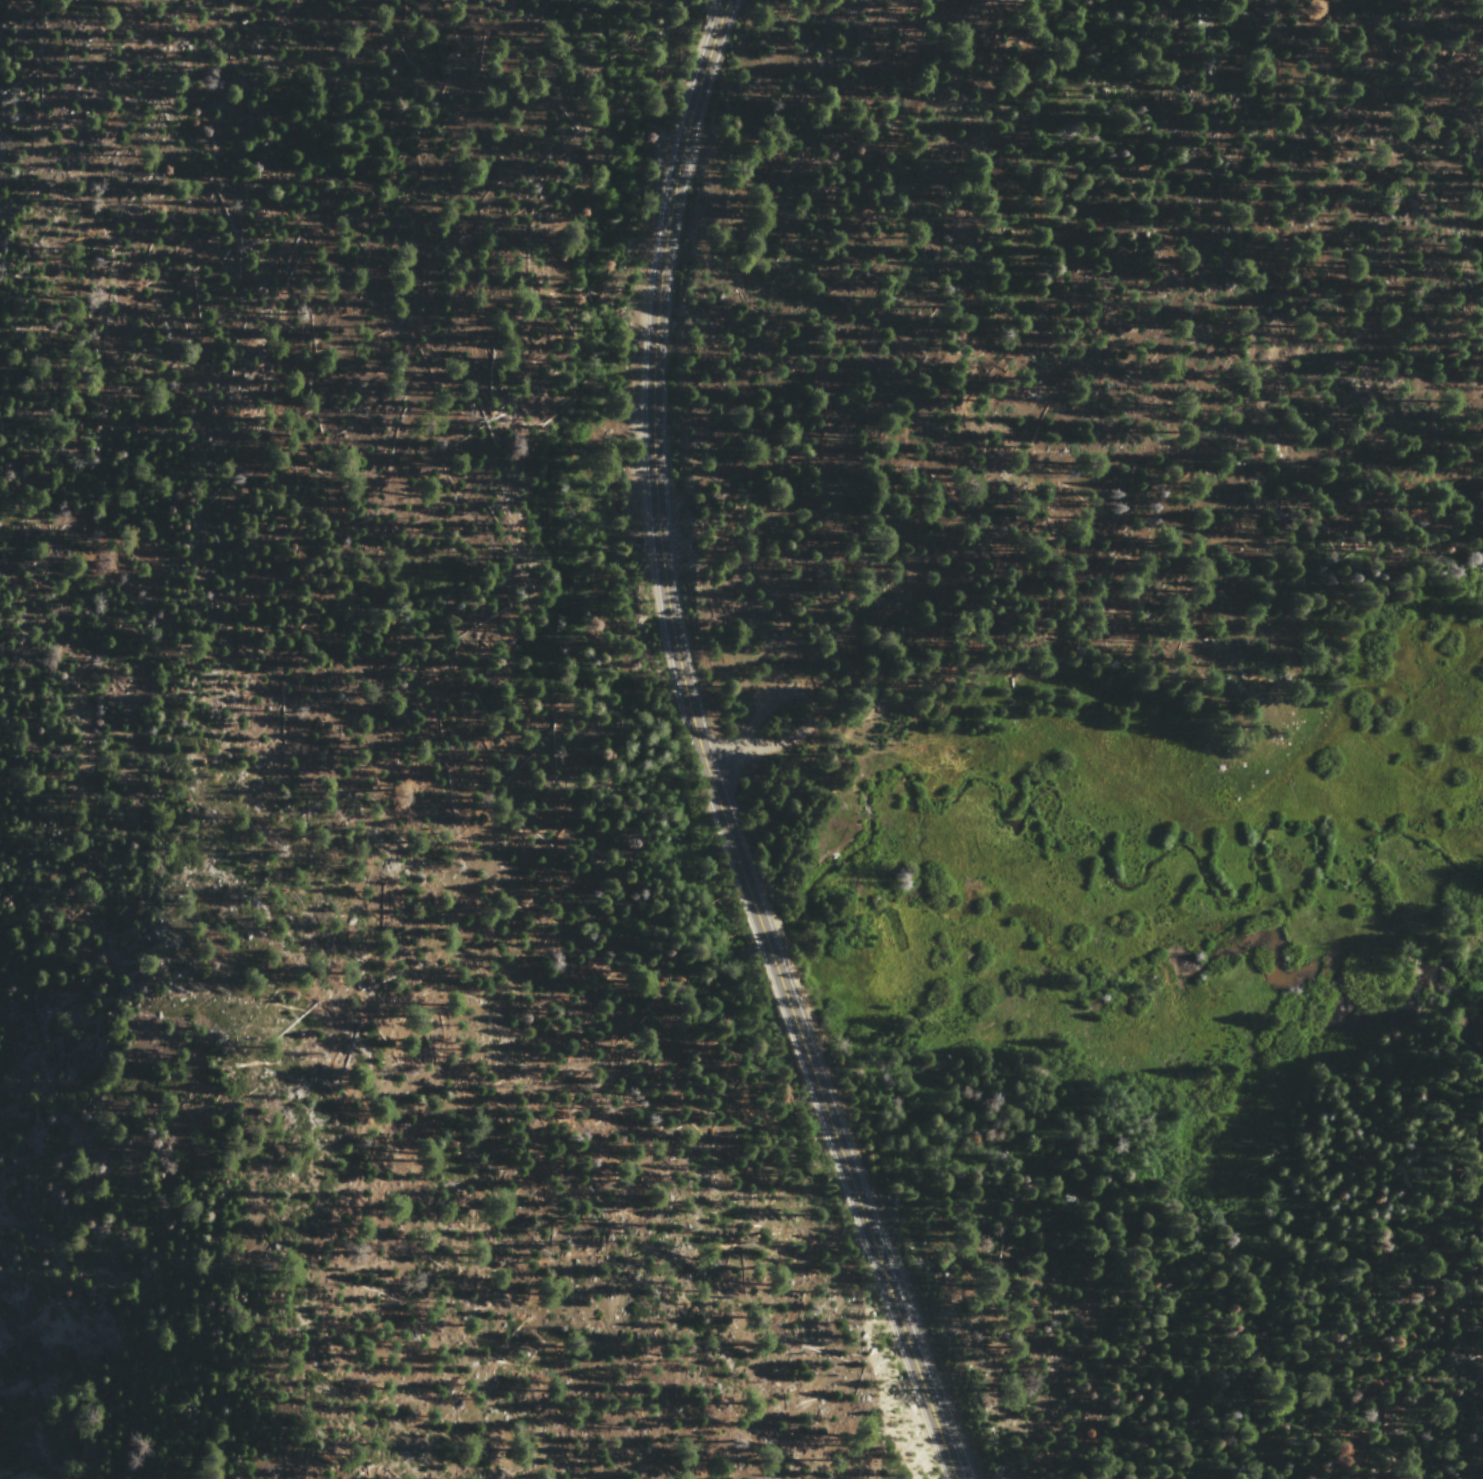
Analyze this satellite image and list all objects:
road: (701, 754)

